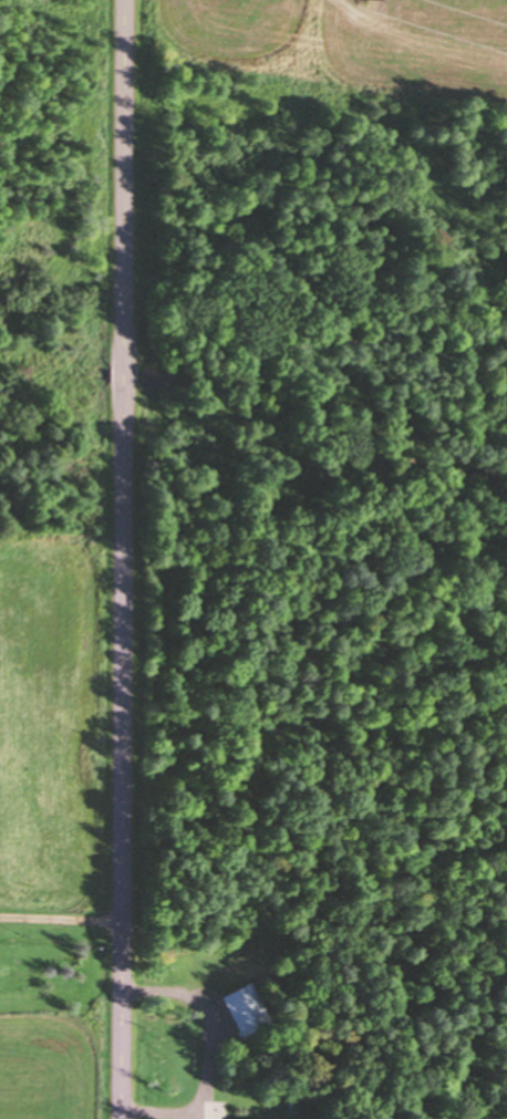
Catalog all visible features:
road: (141, 559)
building: (240, 1005)
building: (242, 1118)

